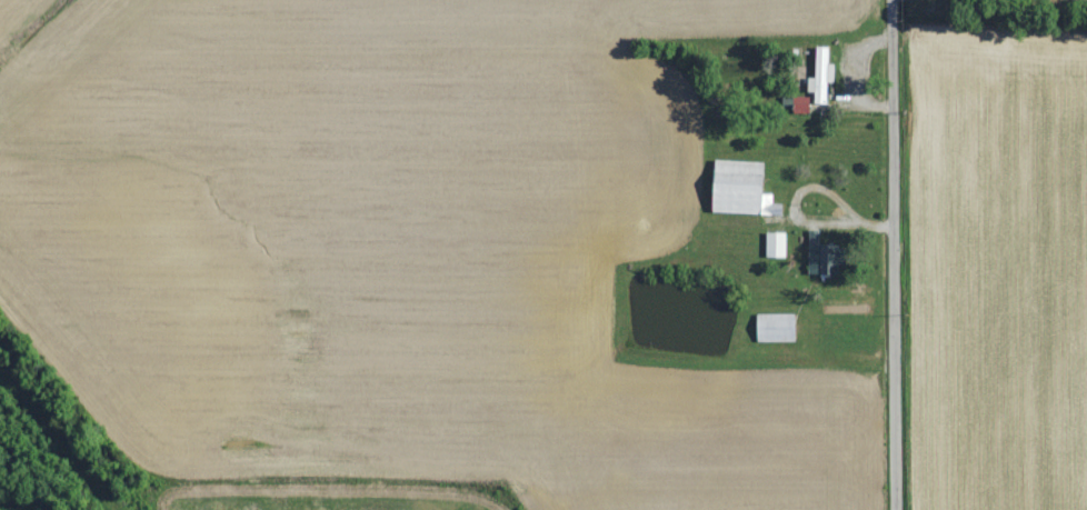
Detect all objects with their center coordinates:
building: (819, 73)
building: (798, 102)
building: (737, 186)
road: (808, 219)
road: (871, 221)
building: (774, 242)
road: (889, 254)
building: (816, 256)

